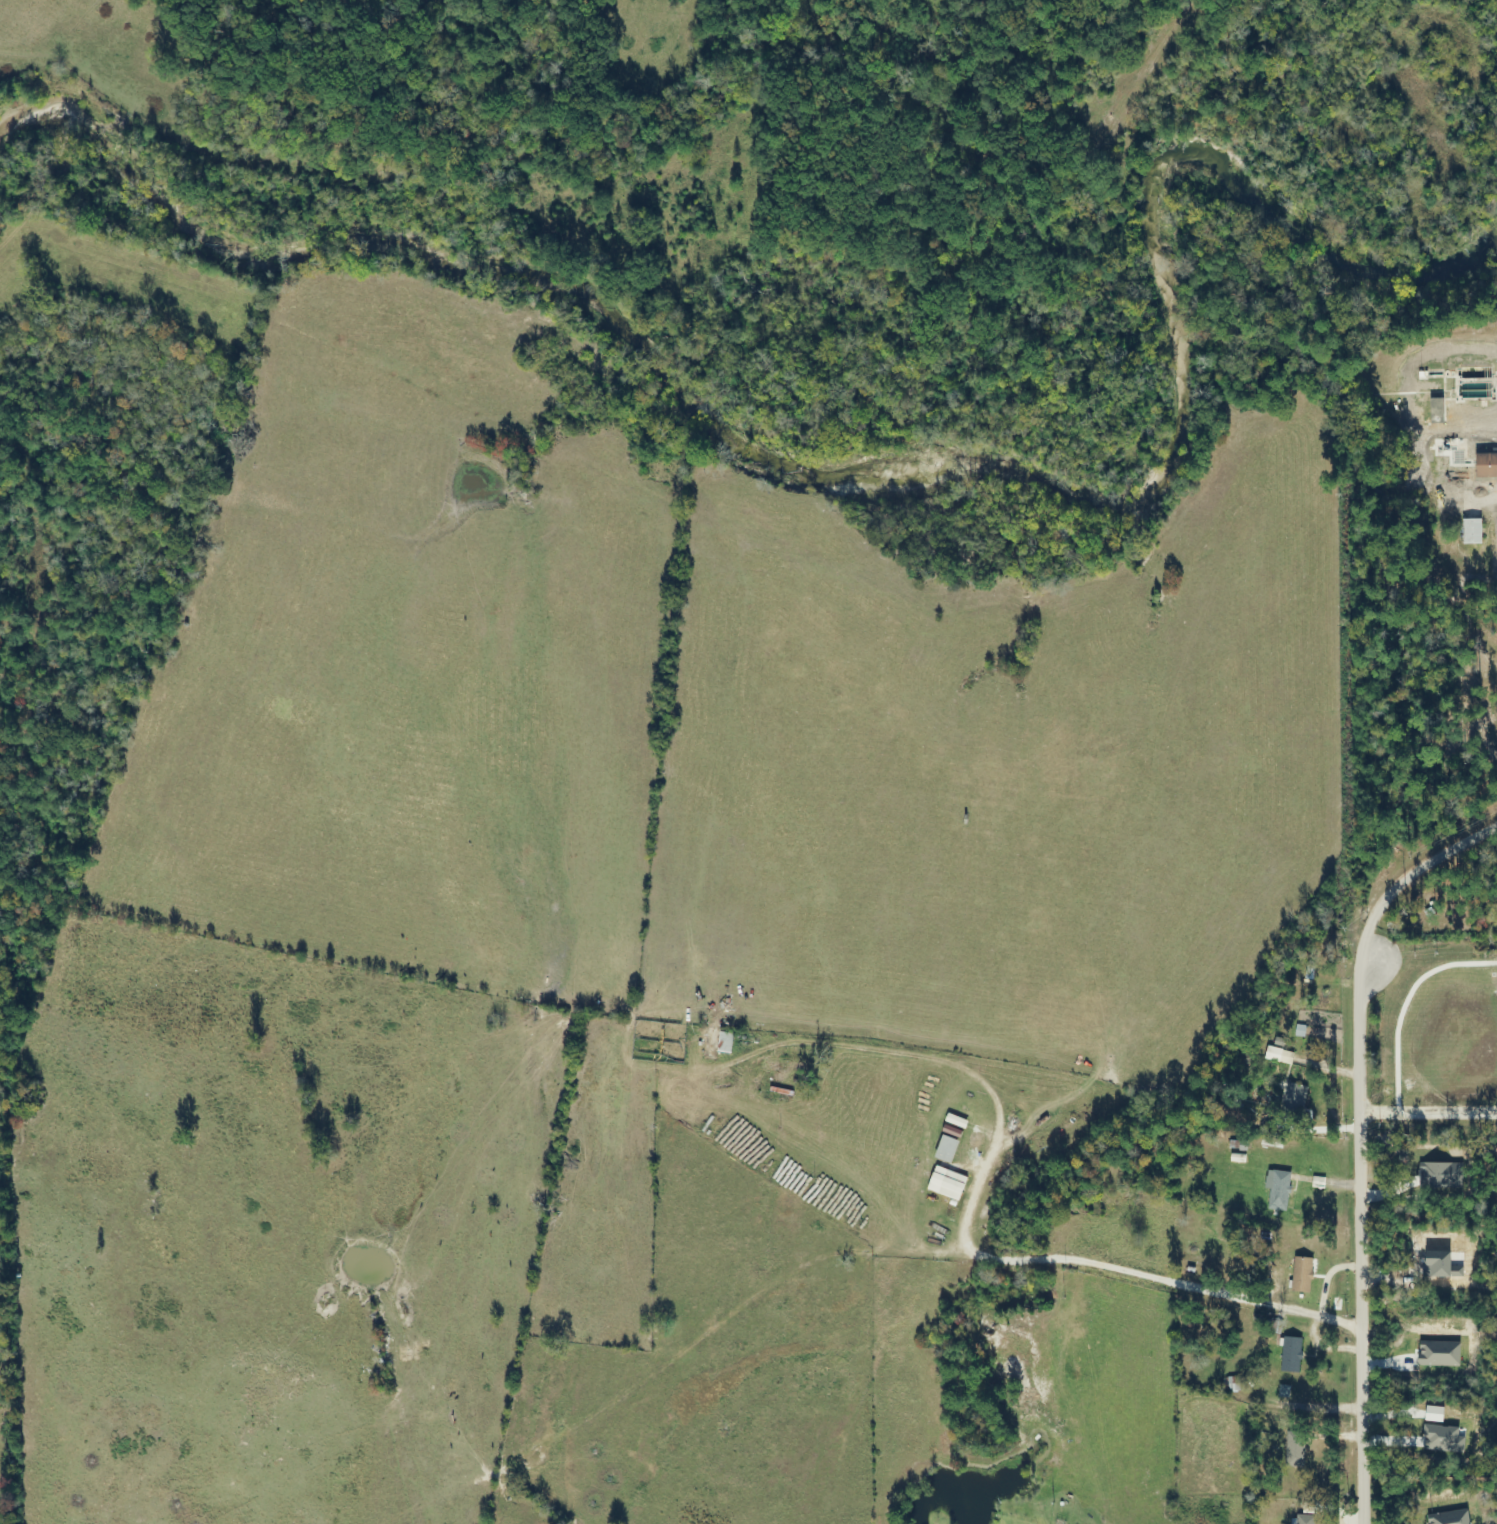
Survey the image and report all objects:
building: (1438, 410)
building: (1487, 465)
building: (1474, 531)
building: (719, 1041)
building: (1295, 1099)
road: (1358, 1141)
building: (1281, 1189)
road: (975, 1197)
building: (1303, 1275)
building: (1227, 1385)
building: (1296, 1450)
building: (1308, 1520)

